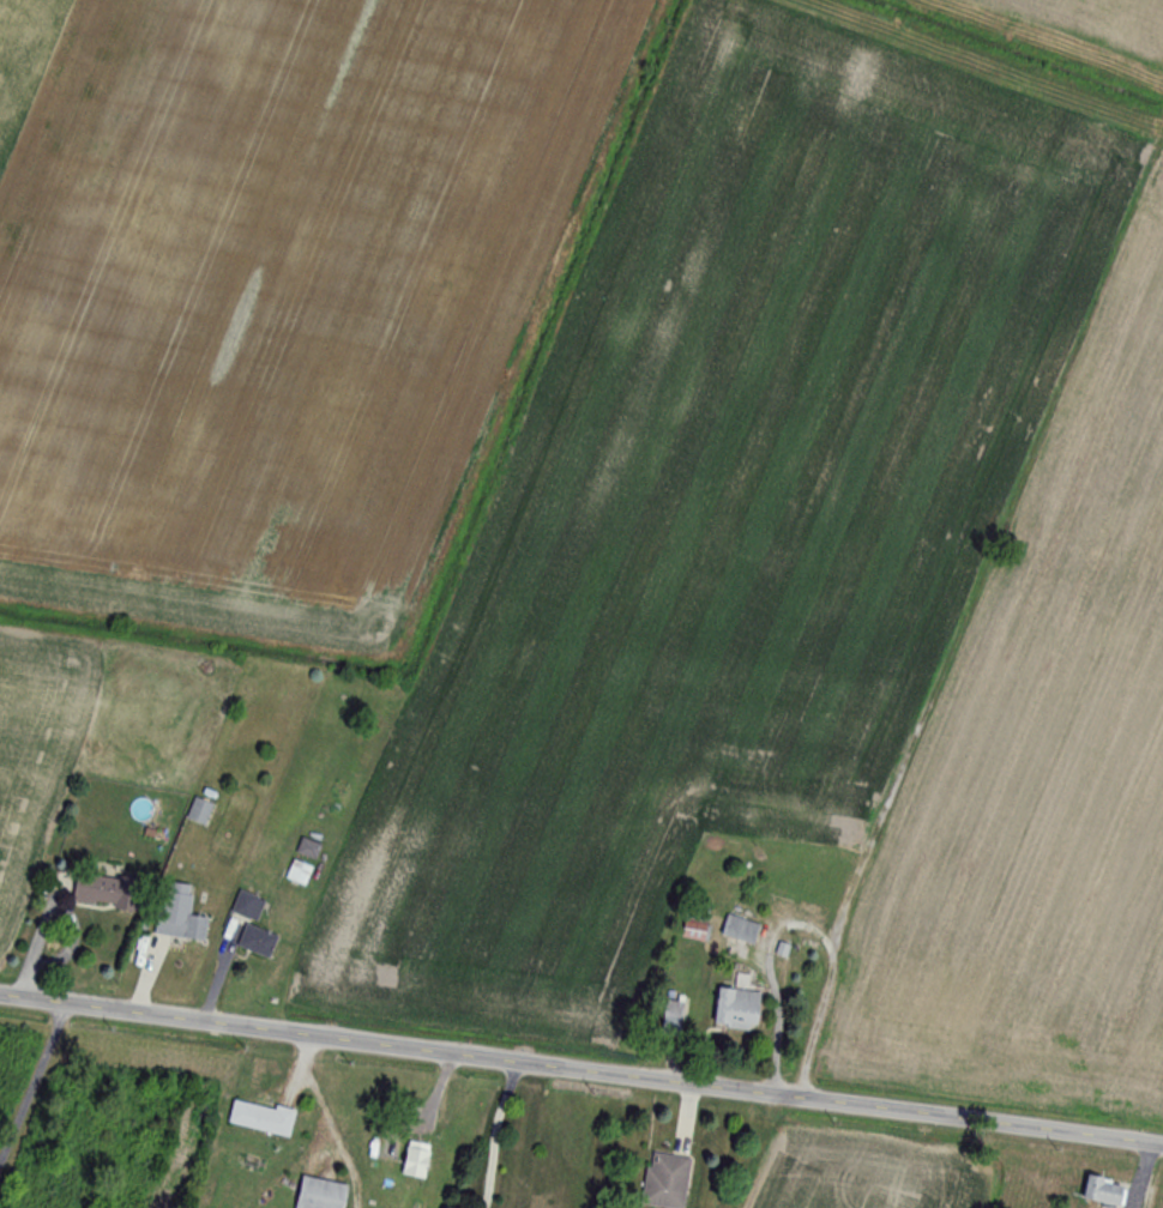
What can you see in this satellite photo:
crop: (1105, 20)
building: (199, 811)
building: (308, 848)
building: (299, 871)
building: (106, 890)
building: (248, 905)
building: (180, 925)
building: (695, 928)
building: (740, 928)
road: (800, 934)
building: (257, 940)
building: (736, 1007)
building: (675, 1013)
road: (580, 1074)
road: (34, 1083)
building: (261, 1117)
road: (494, 1135)
building: (415, 1159)
crop: (869, 1176)
building: (665, 1180)
building: (1104, 1191)
building: (320, 1194)

